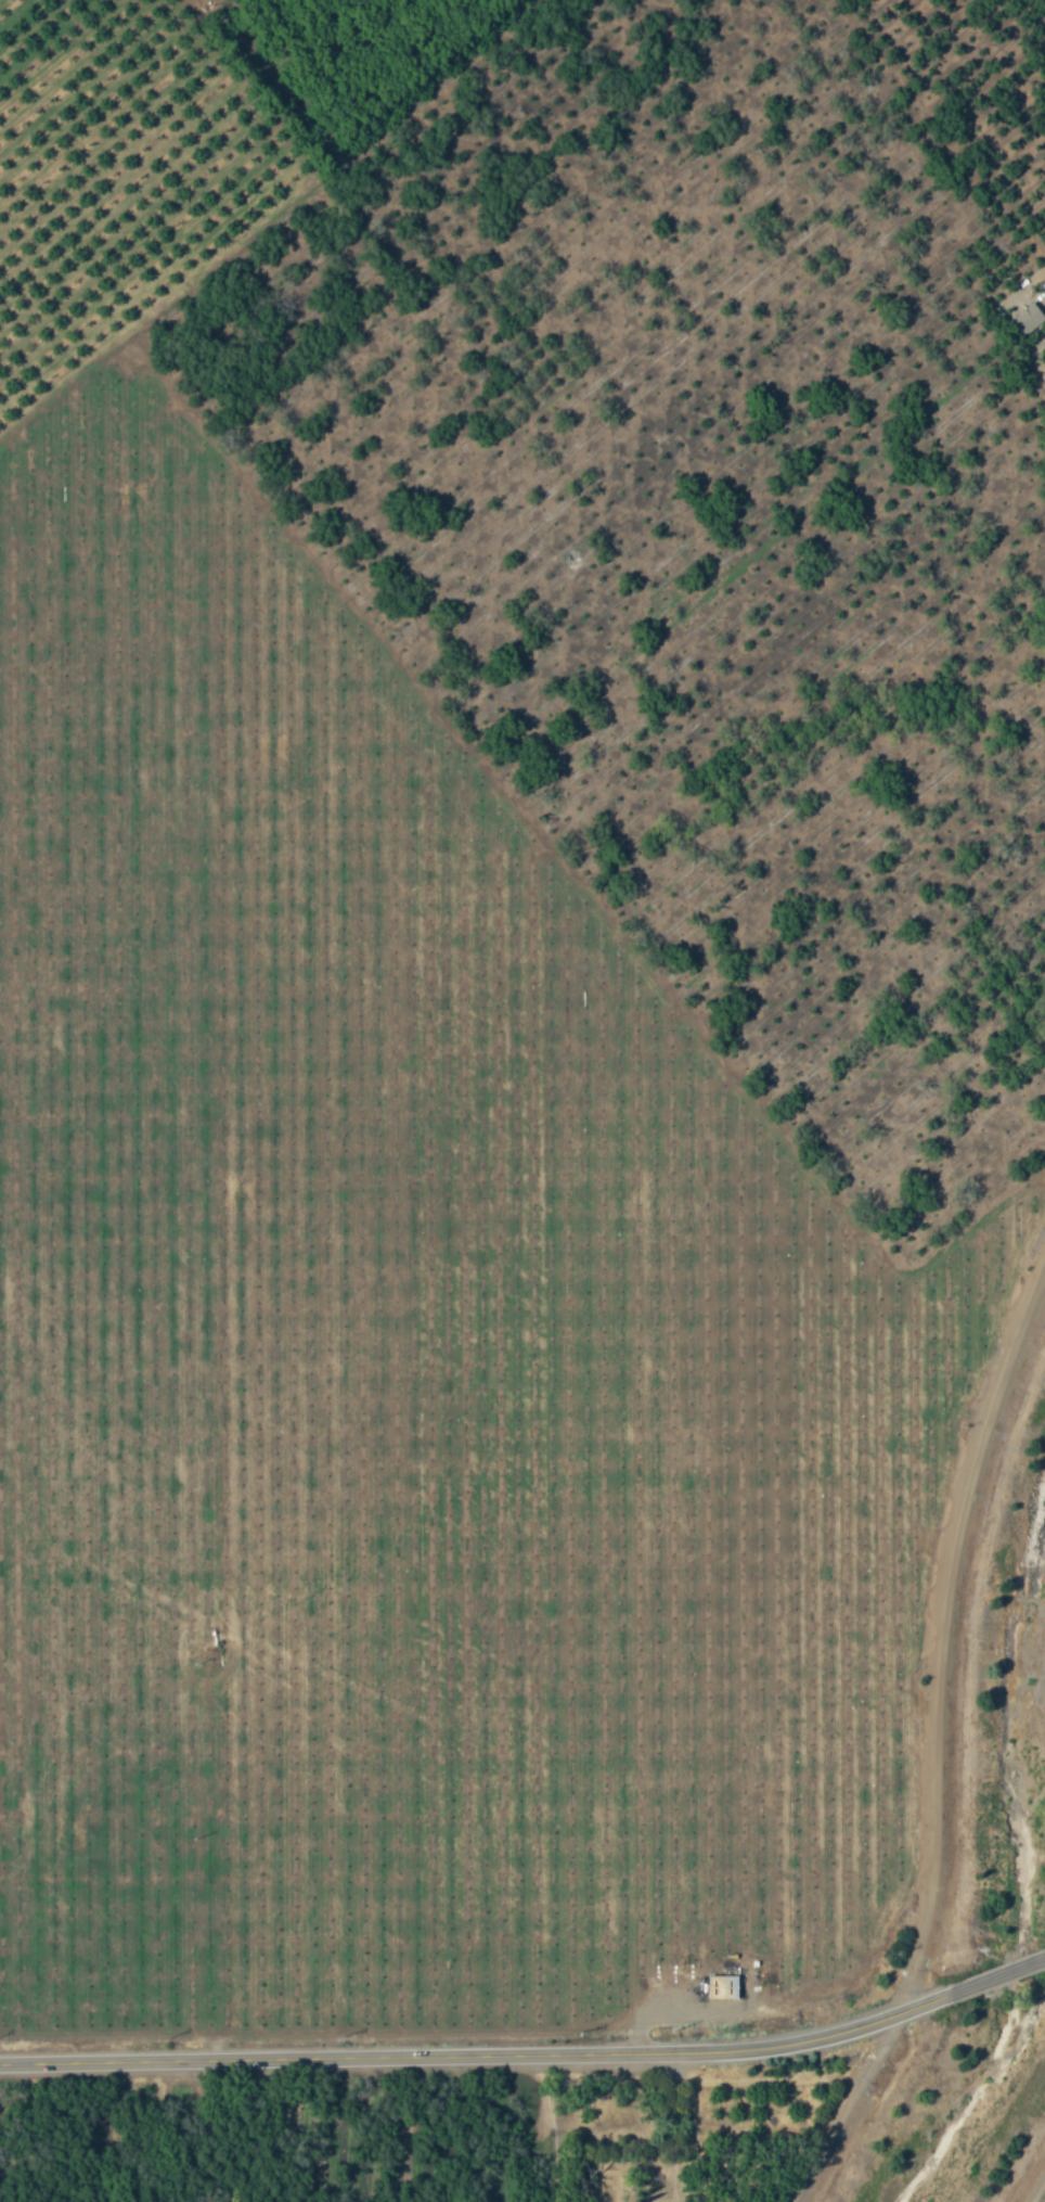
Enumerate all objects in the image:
building: (1027, 320)
road: (934, 1741)
road: (994, 1971)
building: (723, 1986)
road: (475, 2051)
road: (1035, 2186)

